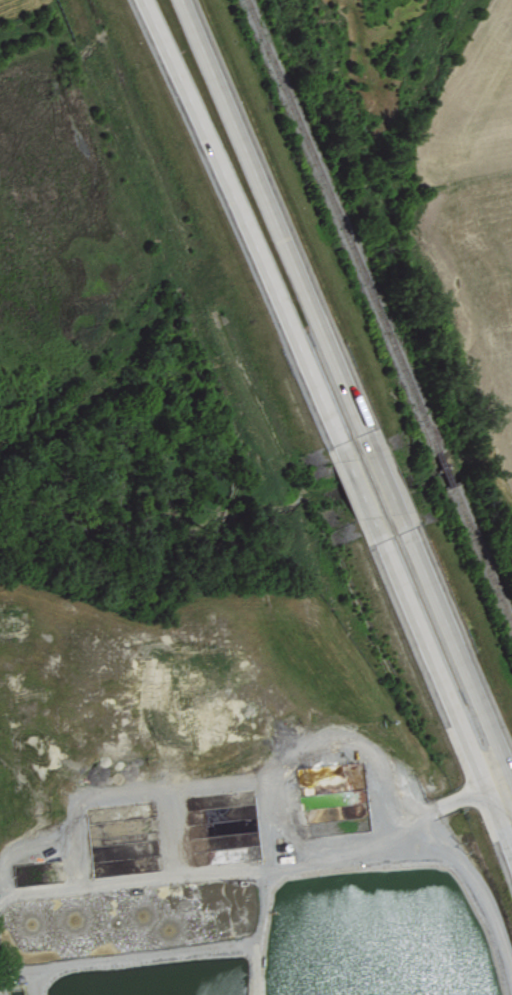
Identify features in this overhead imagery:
road: (273, 214)
road: (241, 219)
railway: (379, 315)
road: (383, 480)
road: (360, 488)
road: (458, 657)
road: (448, 699)
road: (263, 863)
road: (477, 884)

